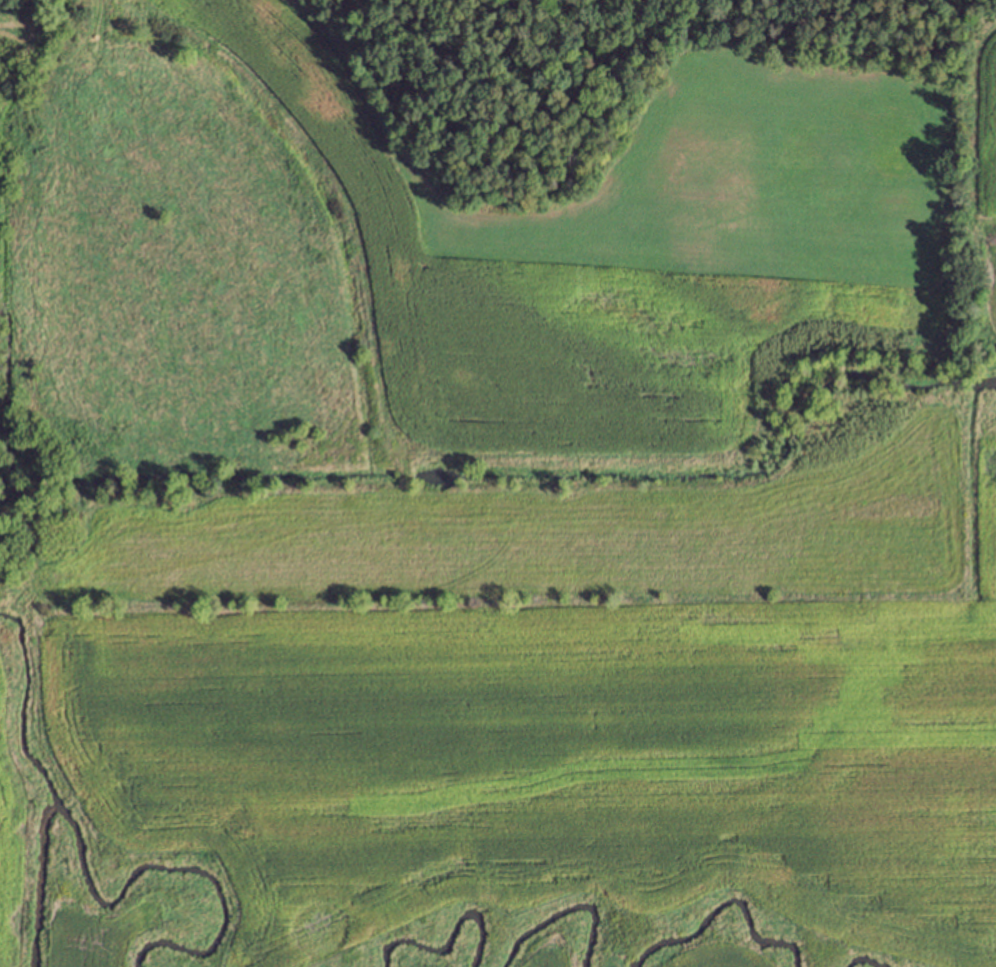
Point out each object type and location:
river: (86, 875)
river: (725, 917)
river: (574, 919)
river: (460, 941)

